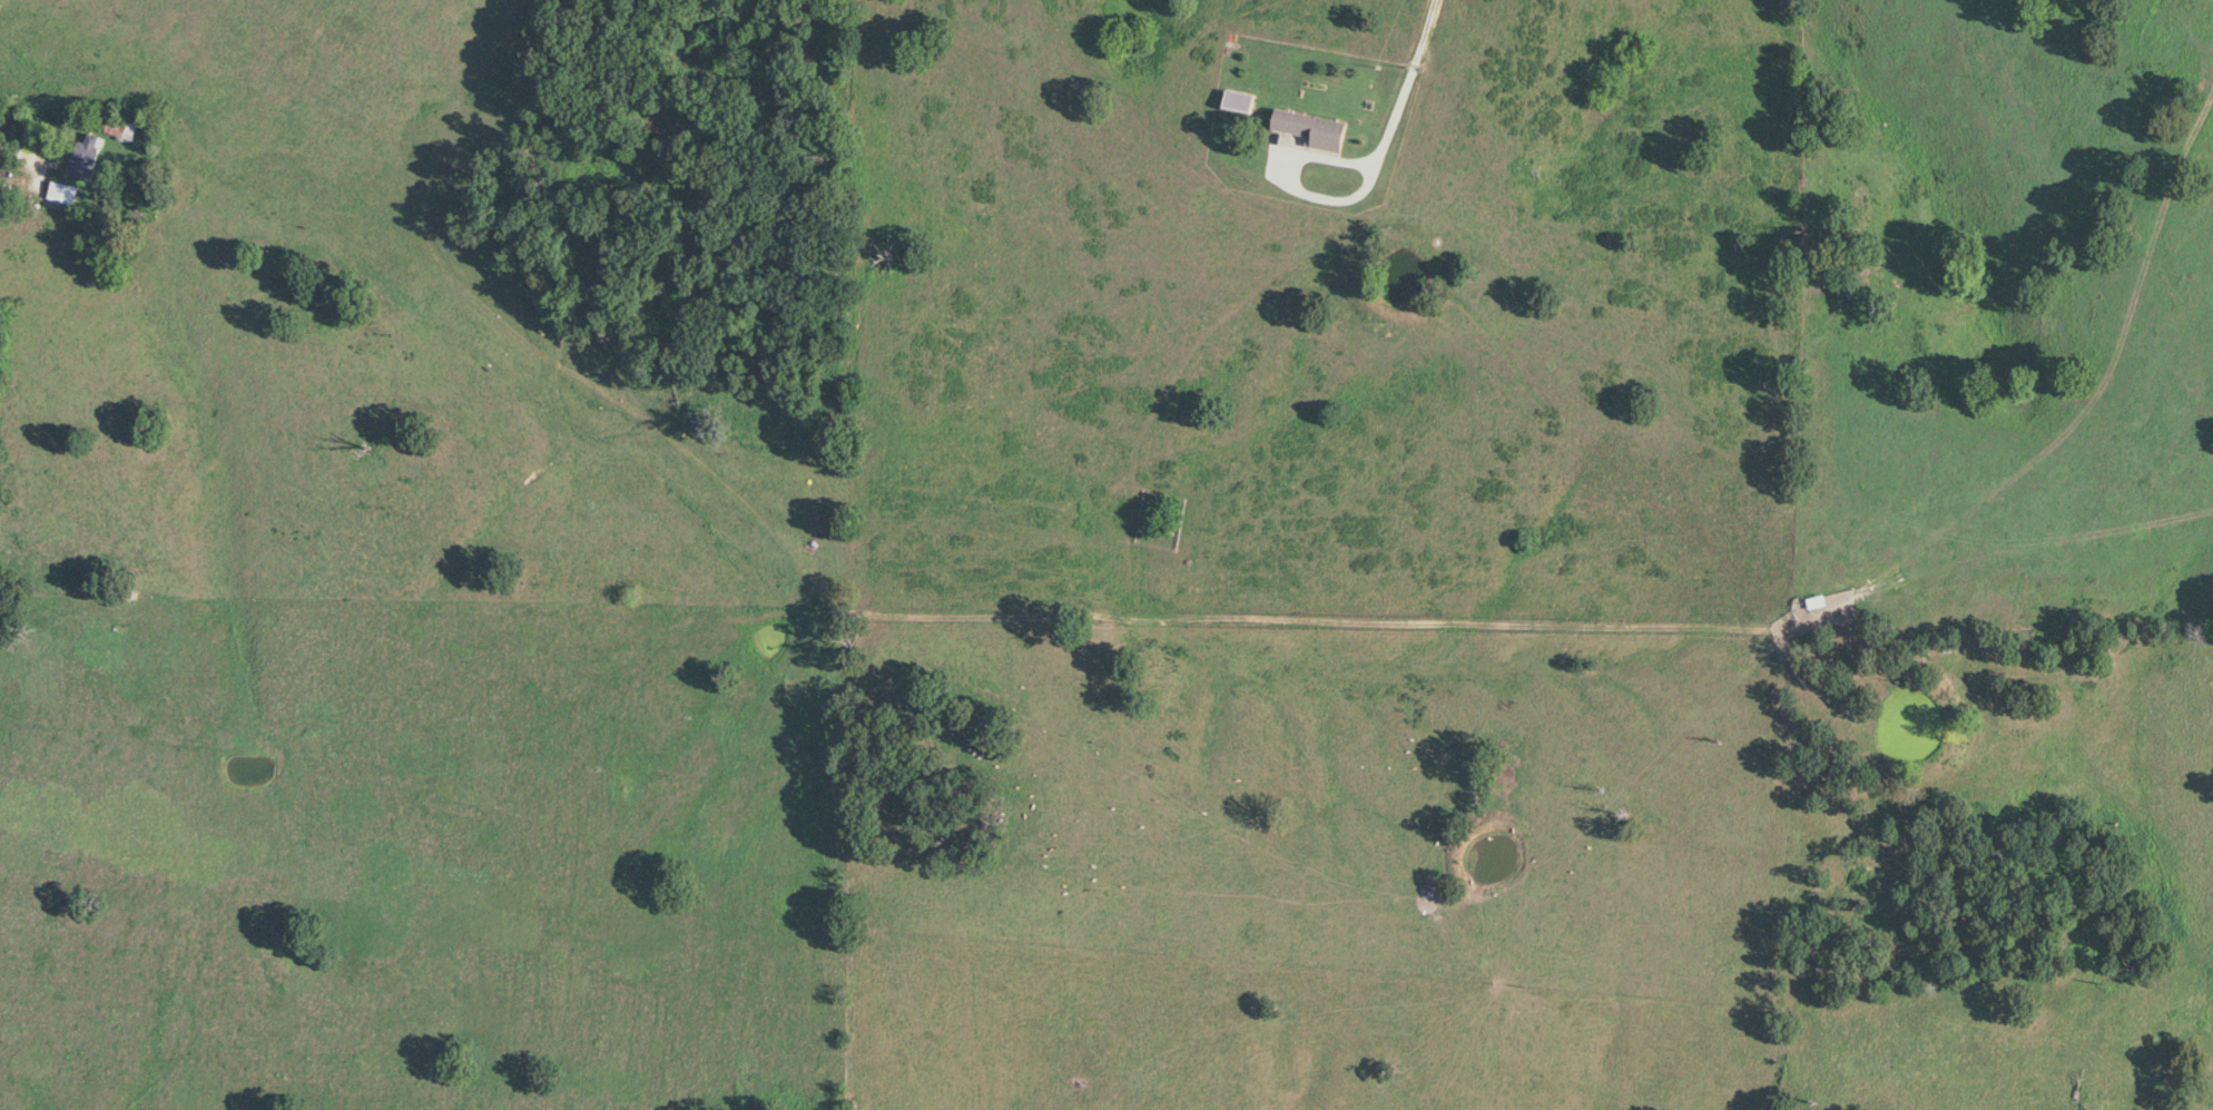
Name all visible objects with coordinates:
building: (119, 129)
building: (1305, 132)
building: (83, 158)
building: (59, 195)

